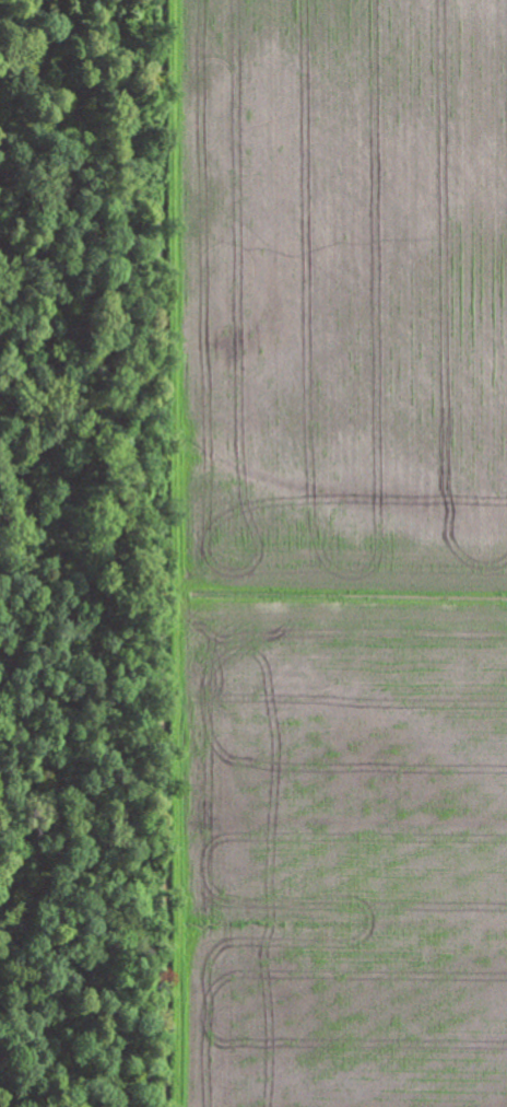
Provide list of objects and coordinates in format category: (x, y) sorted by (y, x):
park: (73, 558)

